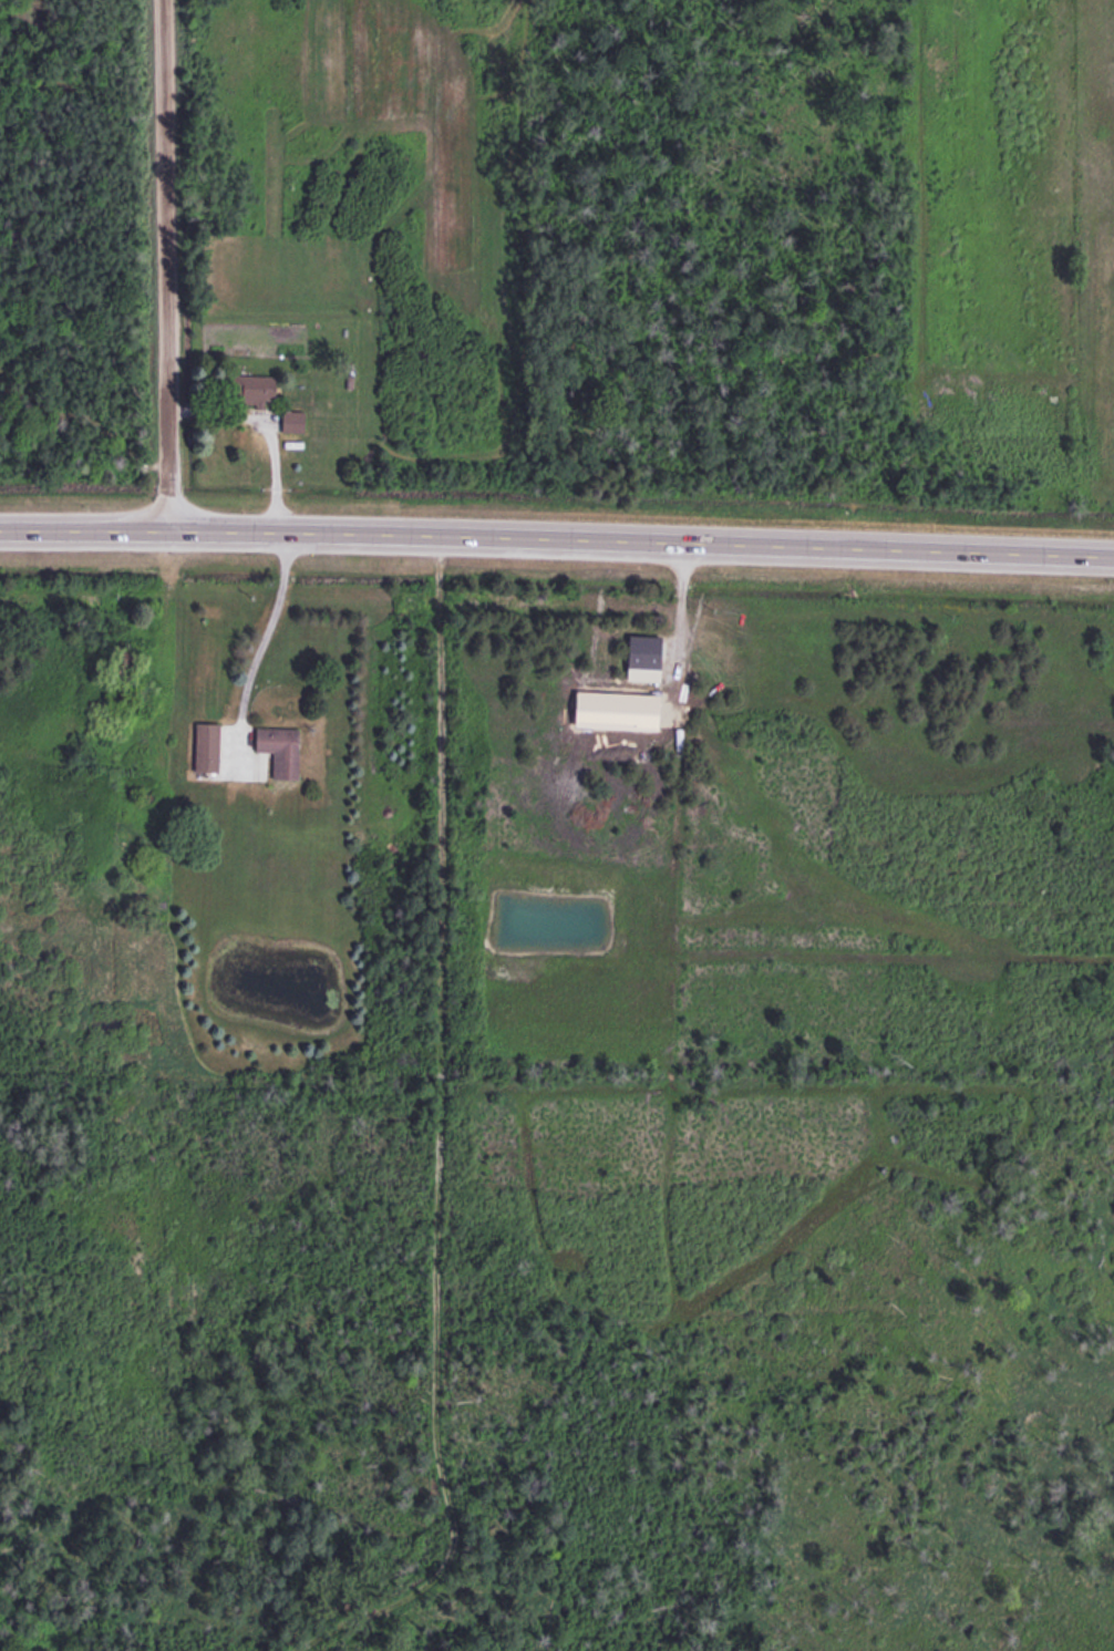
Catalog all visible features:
road: (165, 262)
building: (251, 389)
building: (295, 419)
road: (557, 535)
building: (637, 648)
building: (202, 743)
building: (275, 745)
road: (427, 1102)

